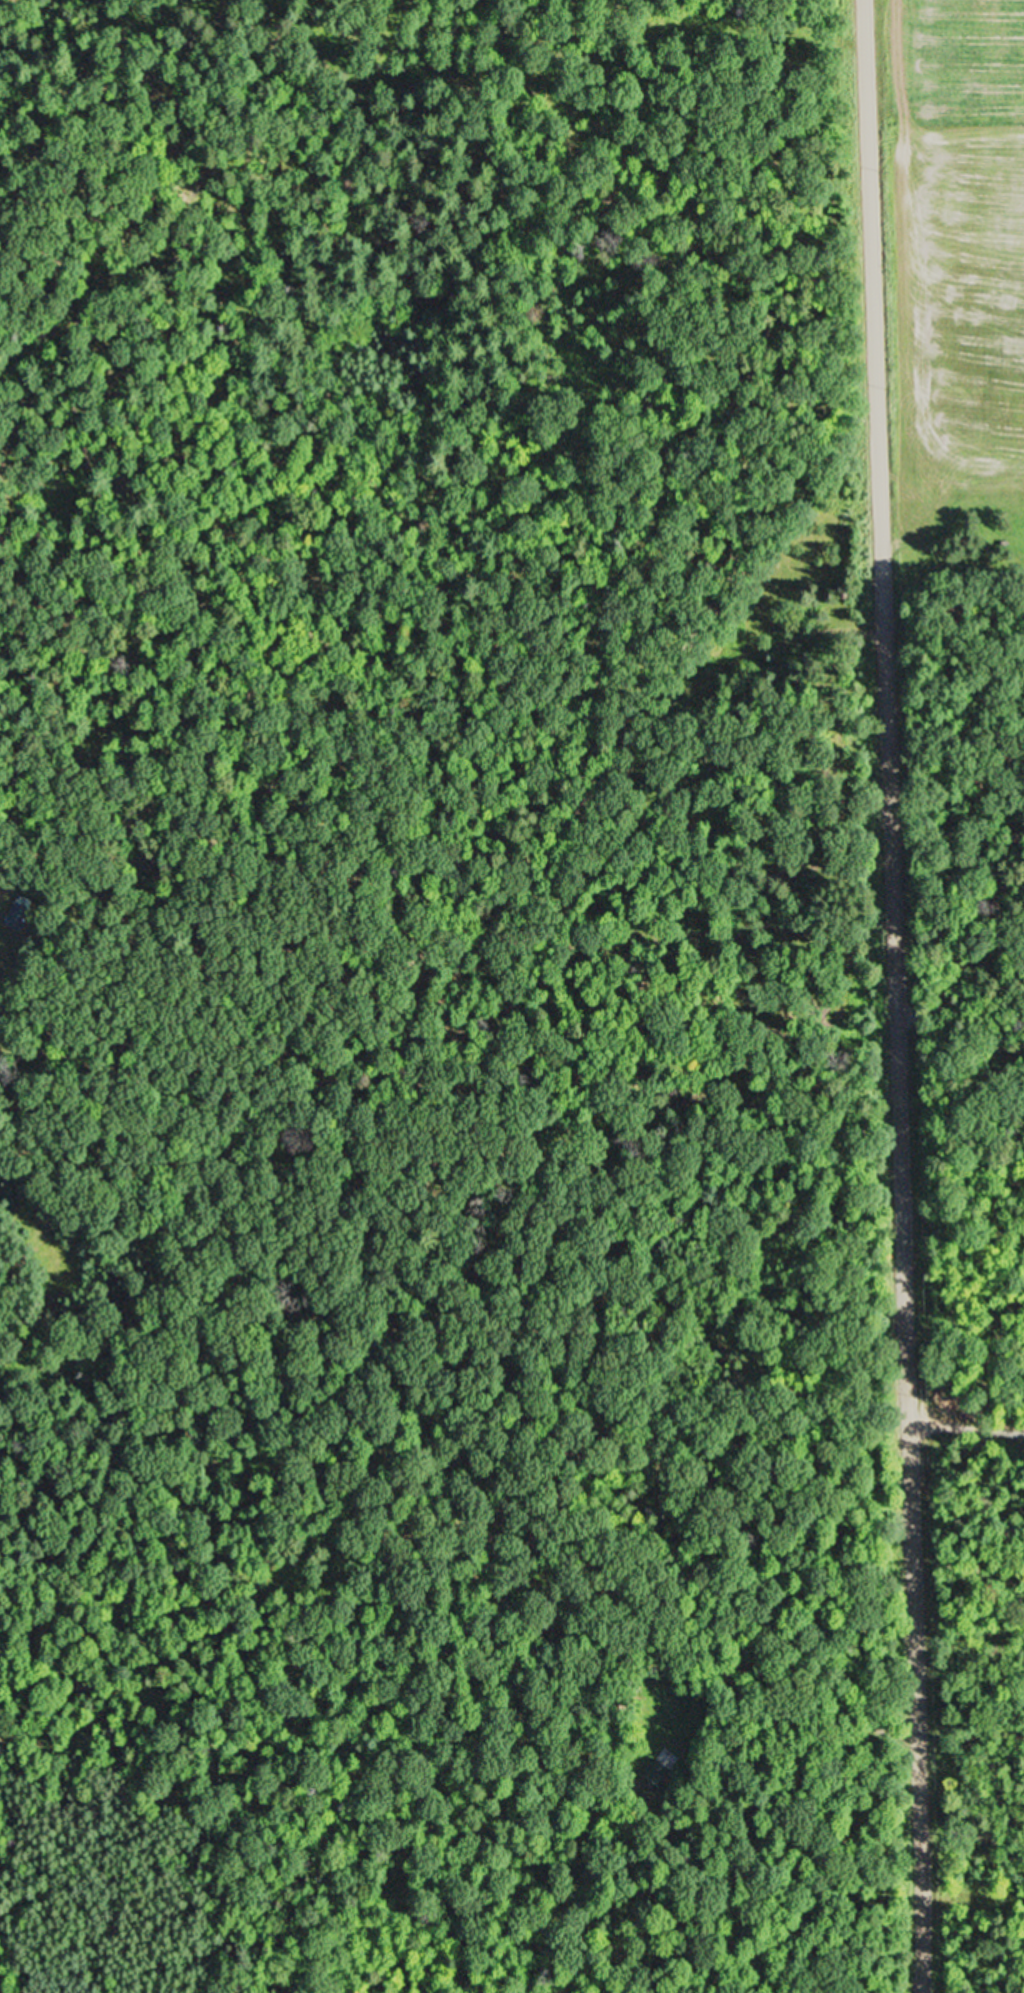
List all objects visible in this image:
road: (909, 995)
road: (968, 1433)

